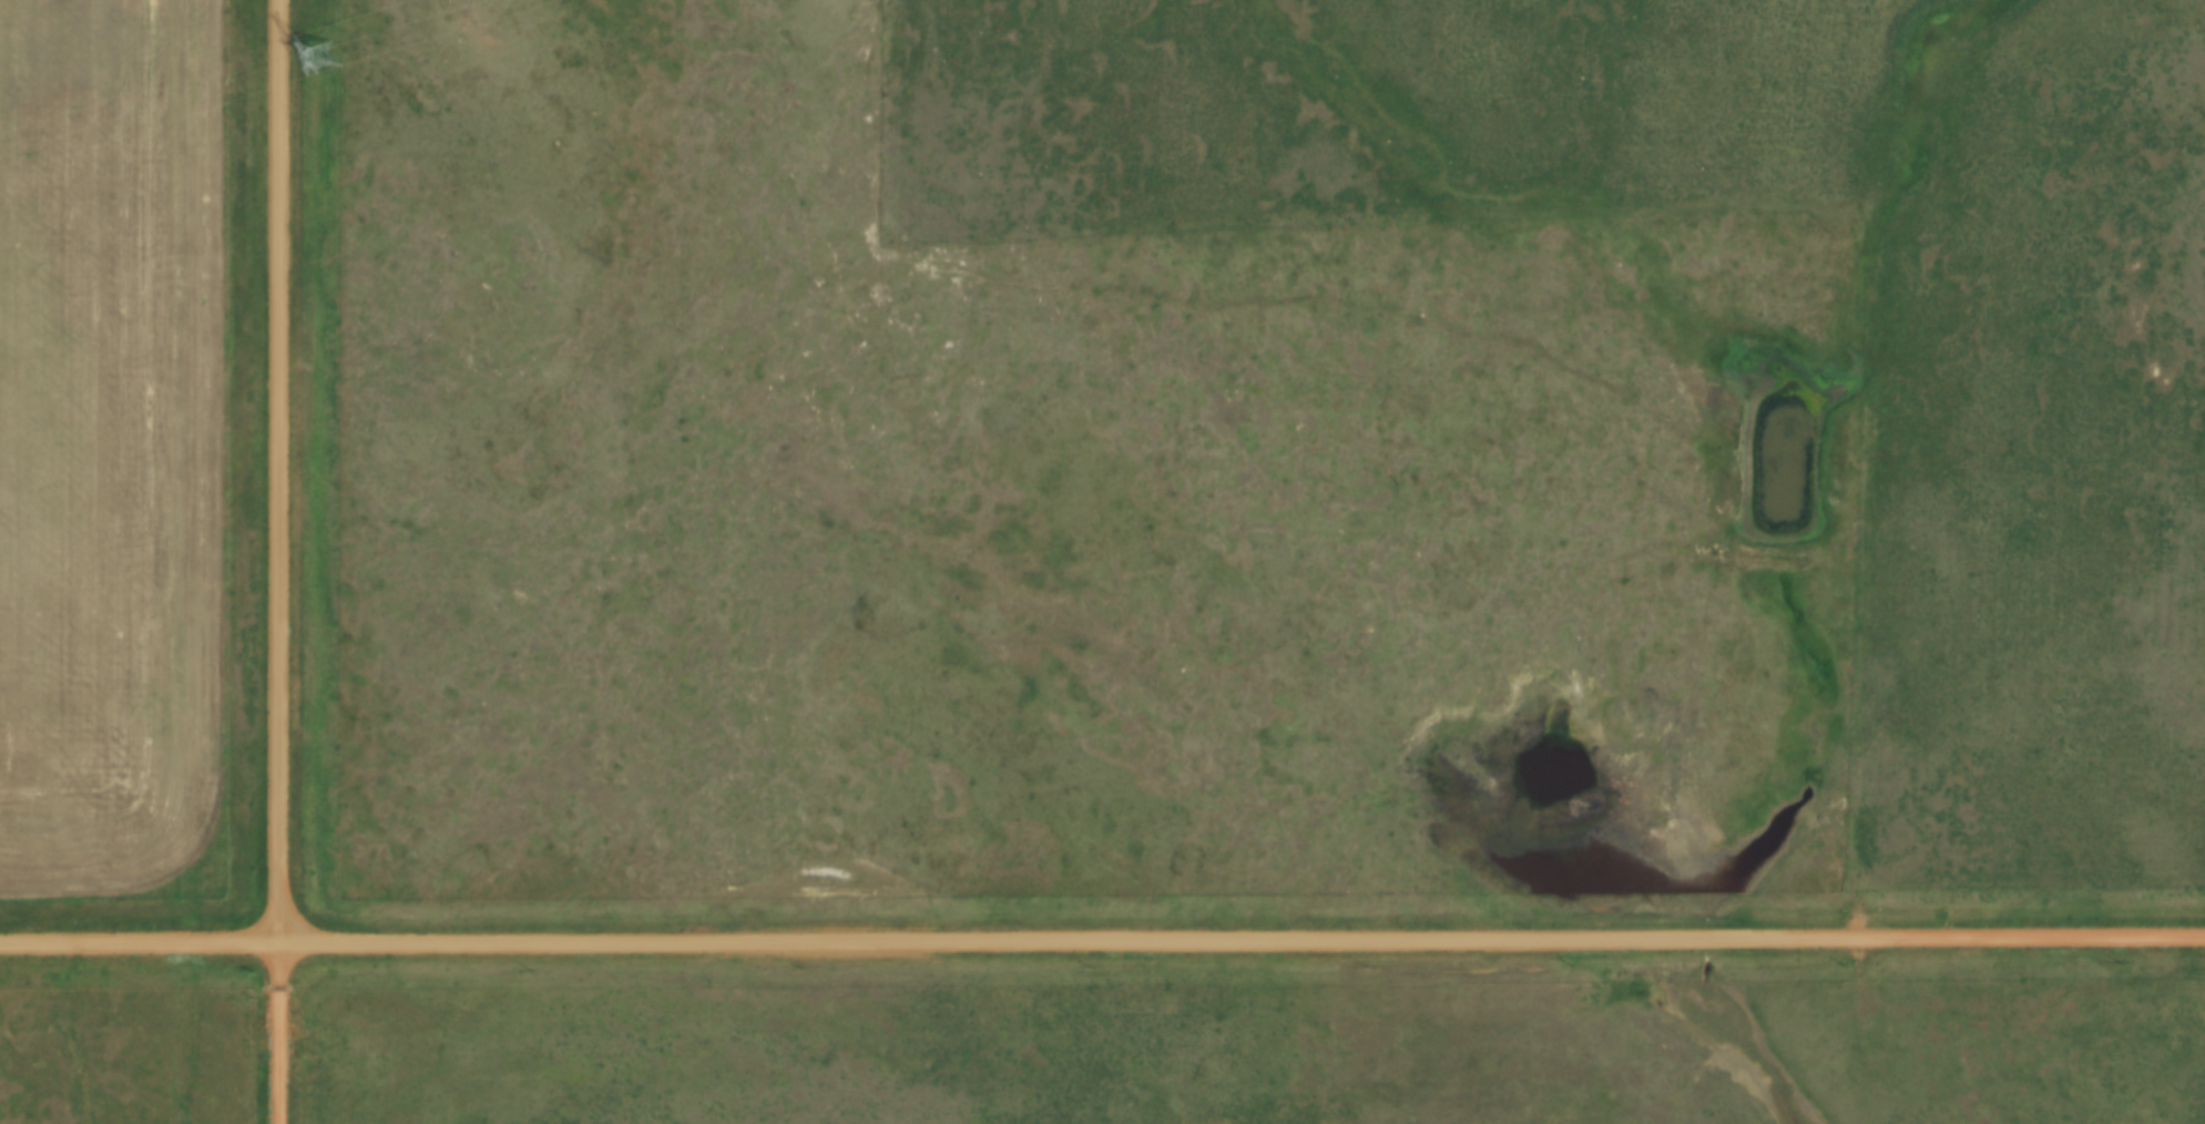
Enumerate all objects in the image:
power tower: (330, 57)
road: (280, 472)
road: (1102, 943)
road: (279, 1034)

